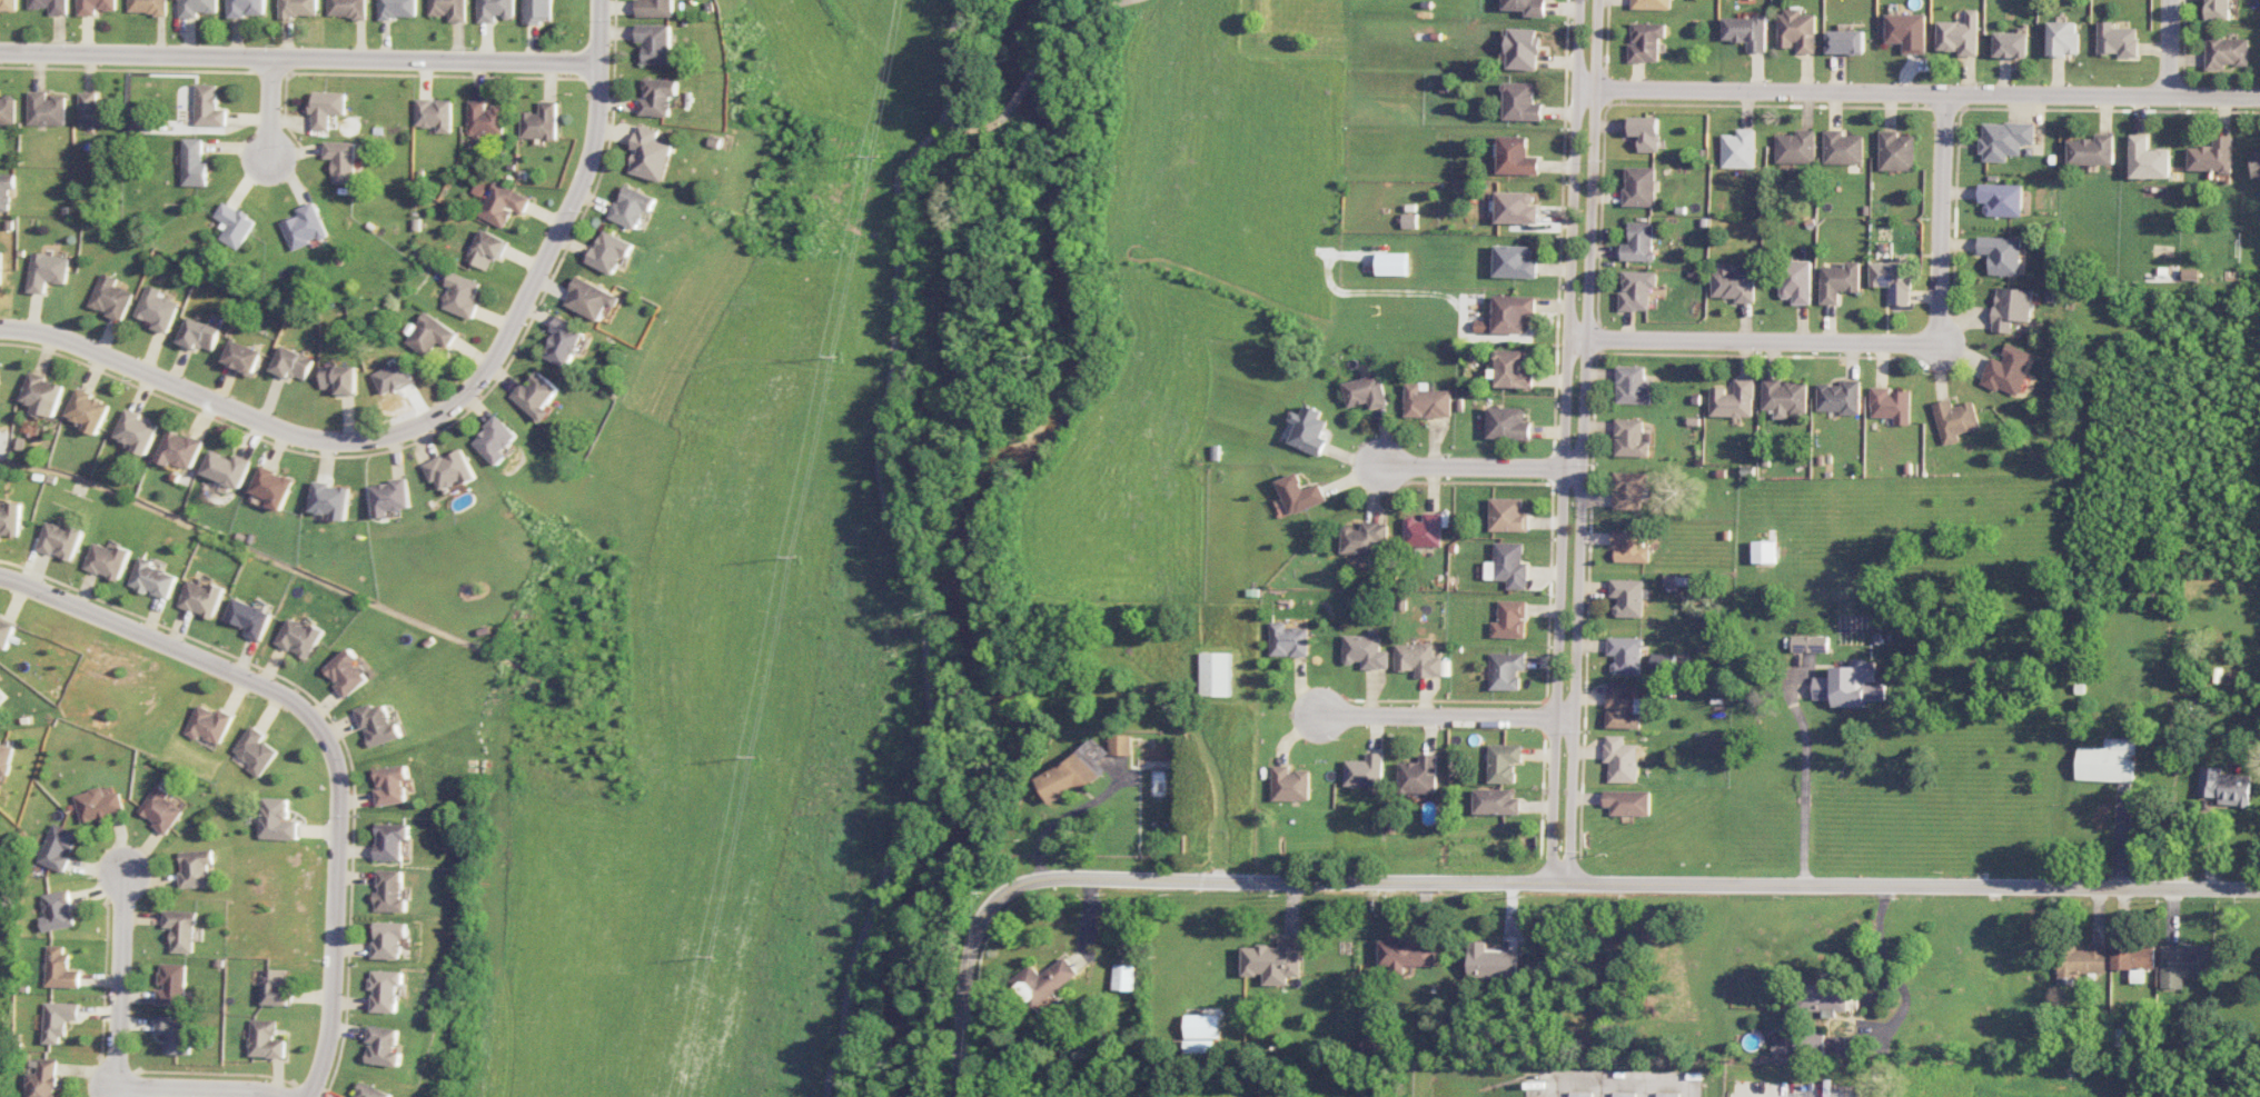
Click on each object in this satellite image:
building: (8, 4)
building: (1651, 4)
building: (50, 6)
building: (95, 6)
building: (147, 7)
building: (197, 7)
building: (1527, 7)
building: (246, 8)
building: (297, 8)
building: (346, 8)
building: (655, 8)
building: (397, 9)
building: (447, 9)
building: (2218, 9)
building: (495, 10)
building: (537, 10)
road: (1083, 20)
building: (1745, 31)
building: (1796, 31)
building: (1907, 31)
building: (1960, 34)
building: (2063, 38)
building: (2117, 40)
building: (1645, 41)
building: (1846, 41)
building: (654, 42)
building: (2010, 44)
building: (1523, 48)
road: (2167, 48)
building: (2226, 51)
road: (298, 59)
road: (948, 59)
road: (1025, 87)
road: (1871, 92)
road: (2213, 96)
building: (657, 97)
building: (1521, 101)
building: (207, 106)
building: (325, 108)
building: (46, 109)
road: (268, 109)
building: (8, 110)
building: (95, 110)
building: (433, 113)
building: (137, 117)
building: (485, 118)
building: (539, 122)
road: (977, 130)
building: (1644, 132)
building: (2004, 140)
building: (1796, 147)
building: (1842, 148)
building: (1737, 149)
building: (2092, 150)
building: (1897, 151)
building: (651, 153)
building: (1516, 156)
building: (2211, 156)
building: (2148, 159)
building: (340, 160)
building: (2256, 162)
building: (192, 163)
building: (1639, 186)
building: (6, 190)
building: (2001, 199)
building: (503, 205)
building: (632, 207)
building: (1516, 208)
road: (1940, 219)
building: (1409, 221)
building: (232, 225)
building: (304, 227)
building: (1639, 242)
building: (486, 249)
building: (609, 251)
building: (2001, 255)
road: (543, 256)
building: (1515, 261)
building: (1391, 263)
building: (0, 267)
building: (46, 271)
building: (1893, 280)
building: (1796, 281)
building: (1838, 281)
building: (1733, 283)
building: (1636, 289)
building: (460, 295)
building: (108, 297)
building: (589, 298)
building: (2011, 308)
building: (155, 309)
building: (1507, 315)
building: (196, 335)
building: (429, 335)
road: (1751, 340)
building: (563, 341)
building: (240, 357)
building: (290, 363)
building: (1513, 369)
building: (2006, 370)
building: (393, 377)
building: (339, 379)
building: (1632, 386)
road: (185, 391)
building: (1366, 391)
building: (42, 395)
building: (535, 396)
building: (1784, 397)
building: (1838, 397)
building: (1733, 400)
building: (1427, 401)
building: (1890, 405)
building: (88, 410)
building: (1954, 419)
building: (1508, 423)
building: (1310, 430)
building: (137, 431)
building: (1632, 438)
building: (494, 440)
road: (1563, 441)
road: (1583, 441)
building: (180, 449)
river: (1045, 458)
road: (1477, 466)
building: (227, 468)
building: (449, 469)
building: (274, 487)
building: (1629, 489)
building: (1299, 493)
building: (389, 497)
building: (331, 500)
building: (1508, 515)
building: (11, 519)
building: (1423, 530)
building: (1364, 538)
building: (62, 540)
building: (1630, 546)
building: (1764, 551)
building: (109, 560)
building: (1509, 565)
building: (152, 578)
building: (1628, 597)
building: (201, 598)
road: (923, 602)
building: (248, 618)
building: (1510, 619)
building: (6, 631)
building: (299, 637)
building: (1289, 640)
building: (1810, 644)
road: (165, 645)
building: (1366, 650)
building: (1625, 655)
building: (1418, 659)
building: (1664, 661)
building: (1506, 670)
building: (348, 672)
building: (1217, 674)
building: (1850, 685)
building: (2, 696)
building: (1623, 706)
road: (1446, 717)
building: (378, 724)
building: (207, 725)
building: (1123, 745)
building: (252, 751)
building: (4, 757)
building: (1622, 759)
building: (2108, 761)
building: (1504, 762)
road: (1806, 768)
building: (1365, 770)
building: (1077, 774)
building: (1419, 775)
building: (1291, 784)
building: (390, 785)
building: (2224, 786)
building: (1496, 801)
building: (1628, 802)
building: (96, 804)
building: (160, 809)
building: (277, 819)
building: (390, 840)
building: (56, 847)
building: (196, 868)
road: (1615, 884)
building: (389, 891)
building: (54, 910)
road: (333, 914)
building: (180, 929)
building: (388, 939)
building: (1405, 953)
building: (2133, 959)
building: (1273, 960)
building: (1491, 961)
building: (2183, 964)
building: (2081, 965)
building: (58, 968)
river: (898, 969)
road: (117, 974)
building: (1123, 977)
building: (1045, 983)
building: (170, 985)
building: (276, 987)
building: (385, 990)
building: (1823, 998)
road: (963, 1005)
building: (56, 1020)
building: (1202, 1026)
building: (174, 1033)
building: (265, 1039)
building: (1374, 1041)
building: (1781, 1044)
building: (384, 1046)
building: (1200, 1046)
building: (40, 1079)
road: (1626, 1081)
road: (199, 1088)
road: (1562, 1089)
road: (1602, 1089)
road: (1646, 1089)
building: (370, 1090)
road: (1689, 1090)
building: (1580, 1094)
building: (1623, 1094)
building: (1666, 1095)

